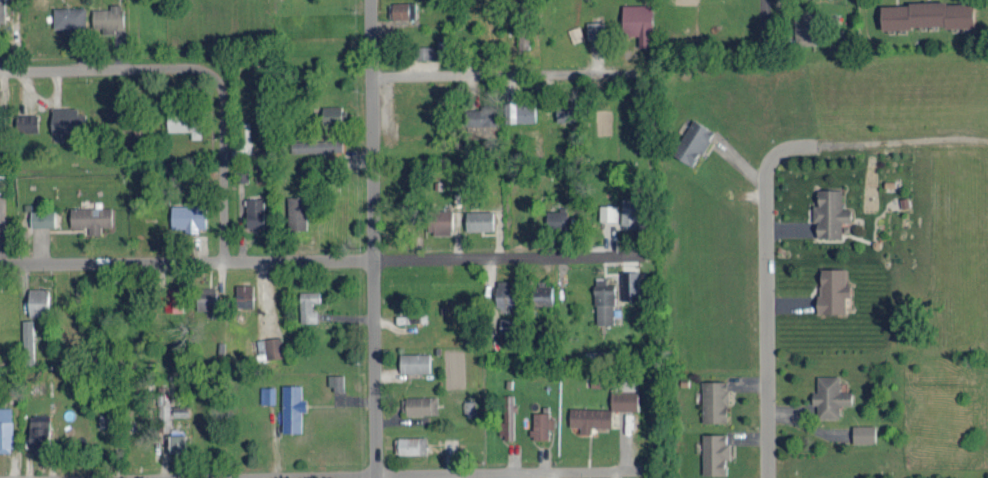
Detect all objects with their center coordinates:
building: (403, 8)
building: (2, 10)
road: (515, 10)
road: (763, 10)
building: (928, 13)
building: (69, 16)
building: (109, 18)
building: (639, 22)
road: (662, 25)
building: (595, 28)
building: (805, 28)
building: (576, 33)
building: (524, 39)
building: (425, 51)
road: (200, 68)
road: (493, 73)
building: (521, 111)
building: (567, 111)
building: (332, 112)
building: (481, 115)
building: (67, 119)
building: (27, 121)
building: (185, 122)
building: (693, 141)
building: (316, 145)
building: (2, 182)
building: (609, 211)
building: (255, 212)
building: (297, 212)
building: (630, 212)
building: (831, 212)
building: (189, 216)
building: (43, 217)
building: (92, 217)
building: (557, 218)
building: (441, 219)
building: (479, 219)
road: (371, 239)
road: (493, 255)
road: (186, 261)
building: (631, 284)
building: (833, 289)
building: (505, 292)
building: (544, 292)
building: (244, 294)
building: (206, 297)
building: (174, 299)
building: (38, 300)
building: (605, 302)
building: (308, 305)
building: (508, 321)
building: (28, 341)
building: (269, 347)
building: (415, 362)
road: (767, 375)
building: (598, 380)
building: (337, 382)
building: (268, 394)
building: (830, 396)
building: (625, 399)
building: (714, 400)
building: (422, 404)
building: (292, 407)
building: (469, 407)
building: (180, 410)
building: (507, 415)
building: (590, 417)
building: (540, 424)
building: (6, 429)
building: (39, 433)
building: (864, 433)
building: (177, 442)
building: (410, 444)
building: (715, 453)
road: (398, 473)

